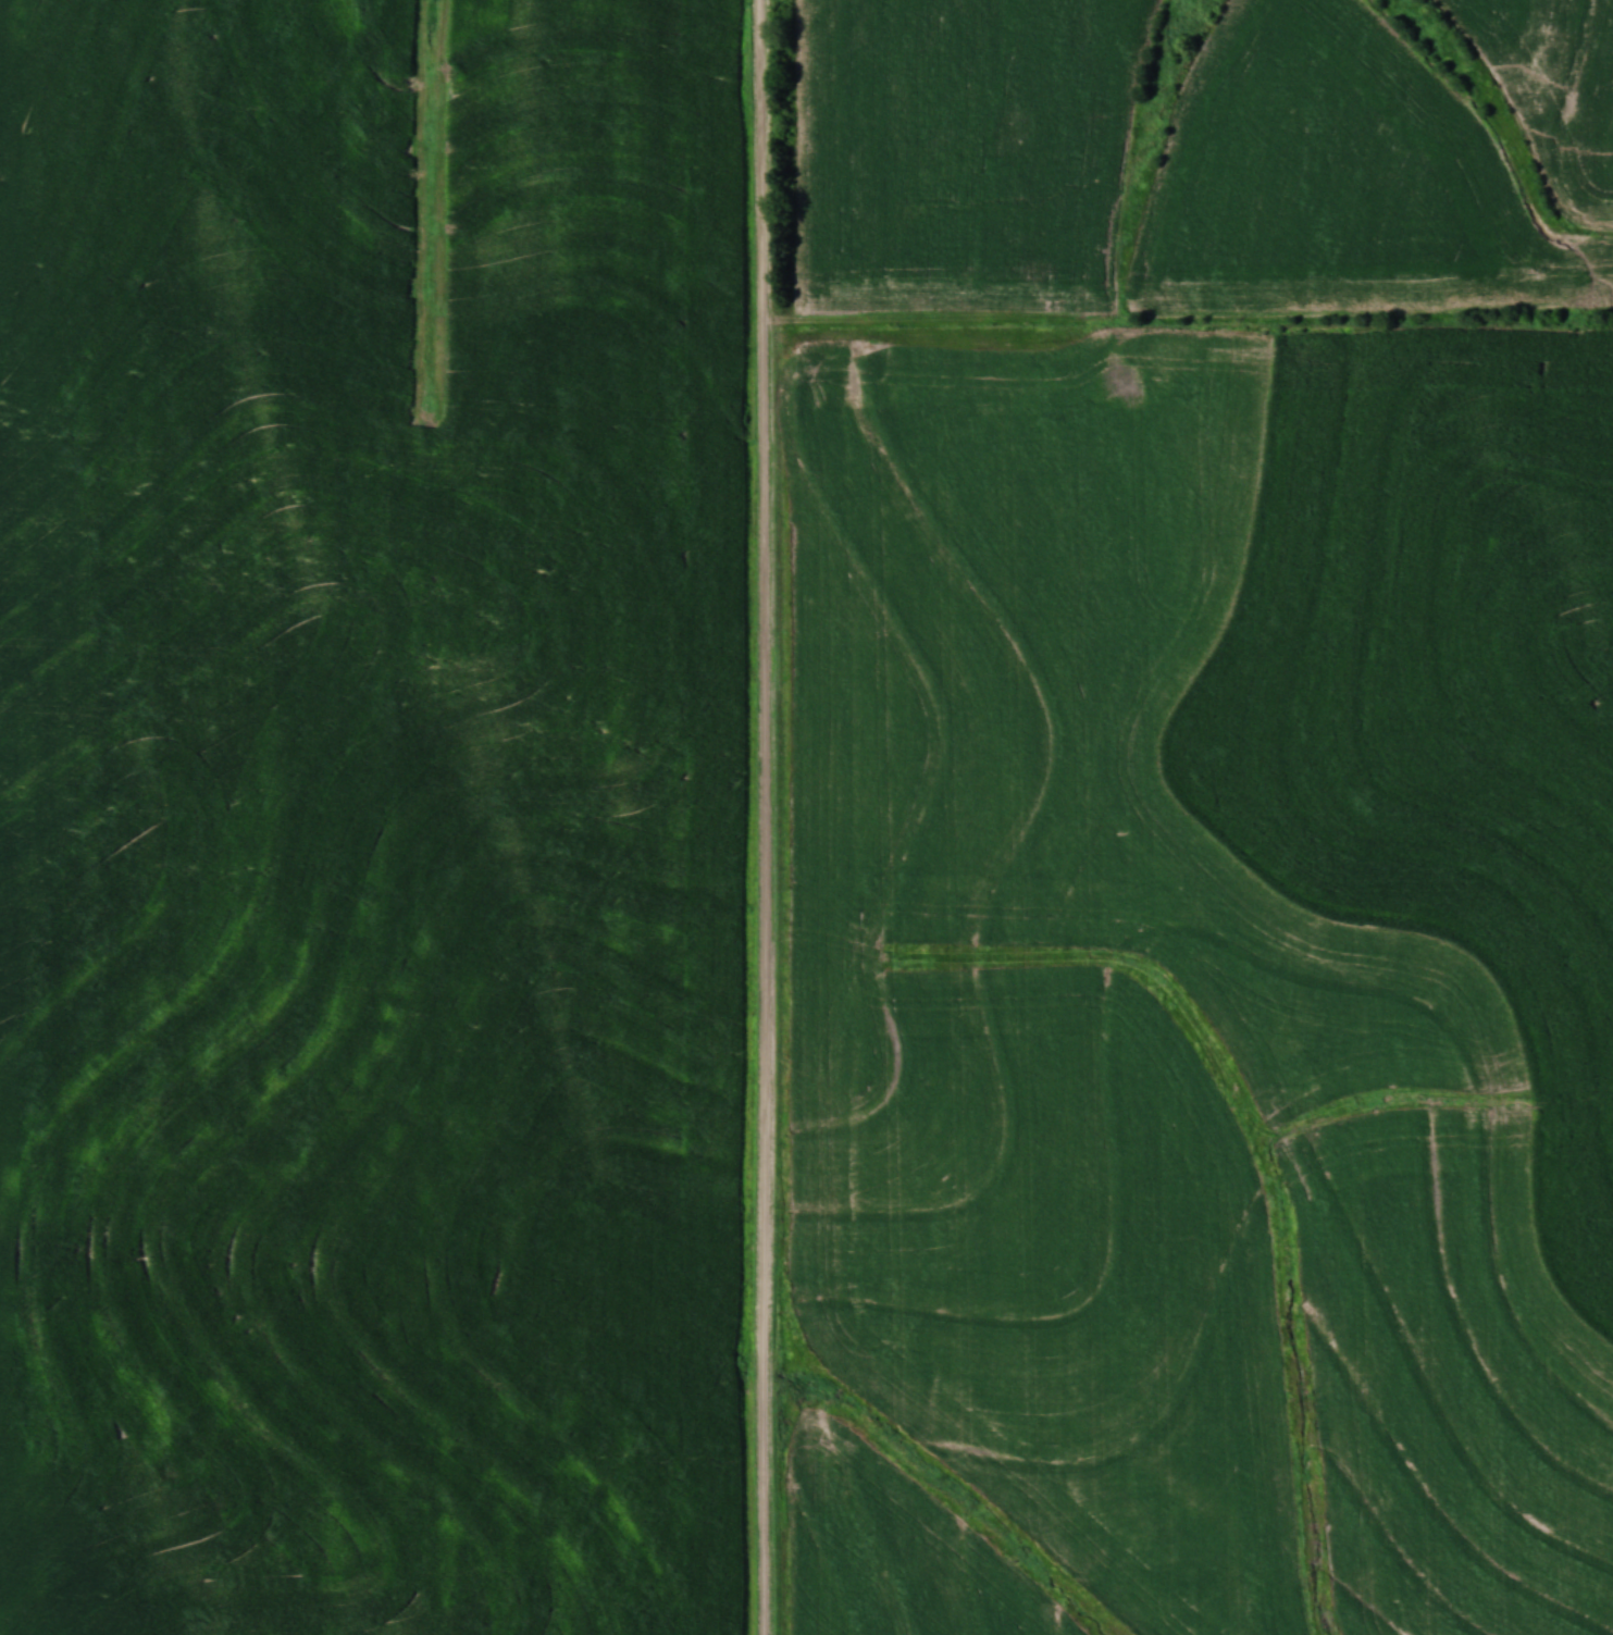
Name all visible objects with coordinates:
road: (770, 817)

